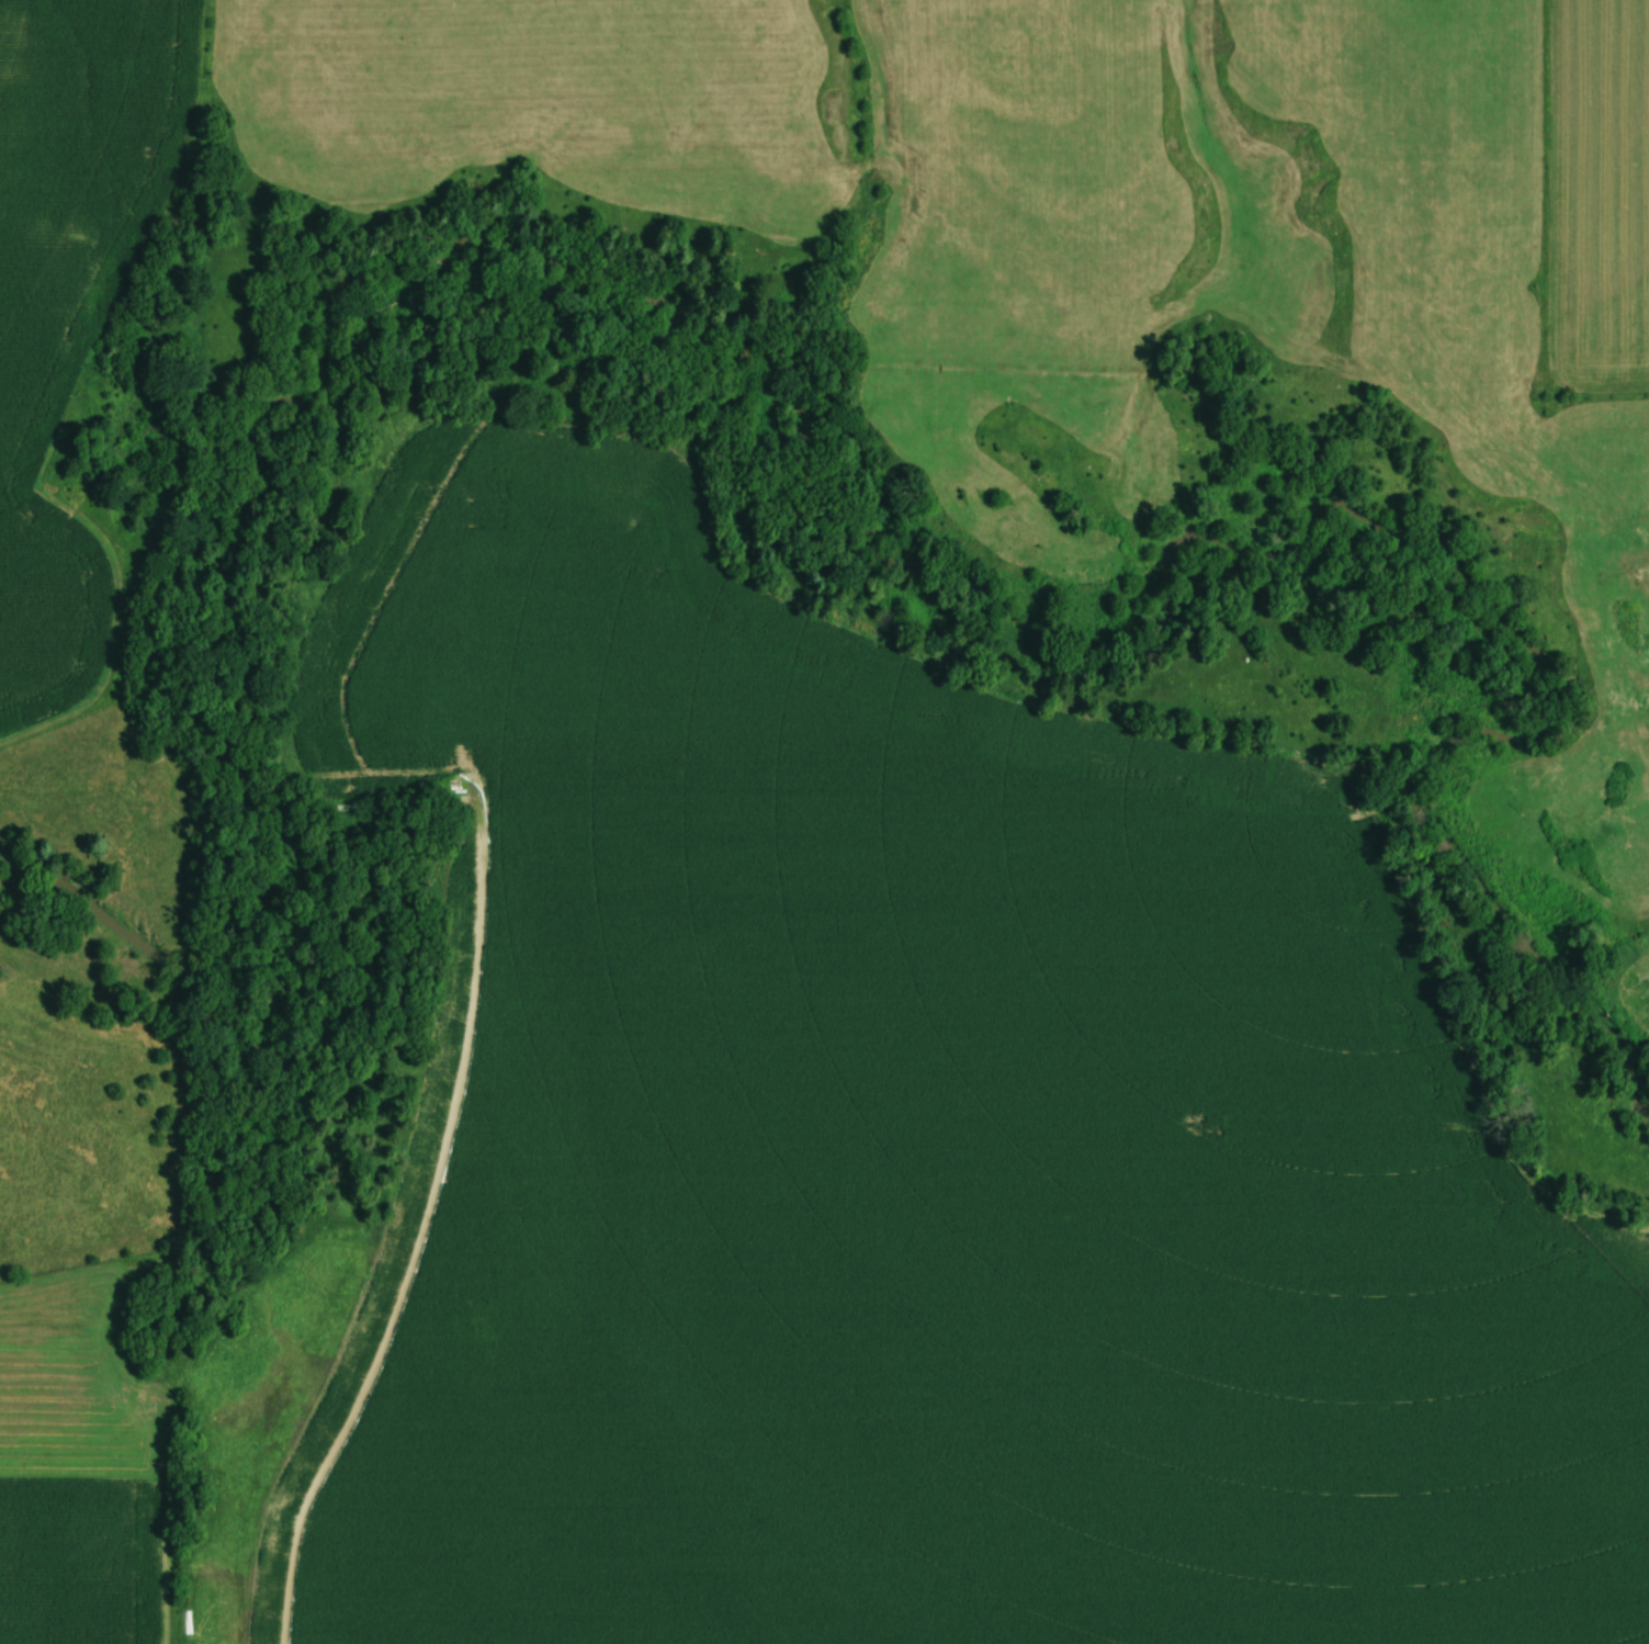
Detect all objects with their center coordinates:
crop: (1605, 182)

